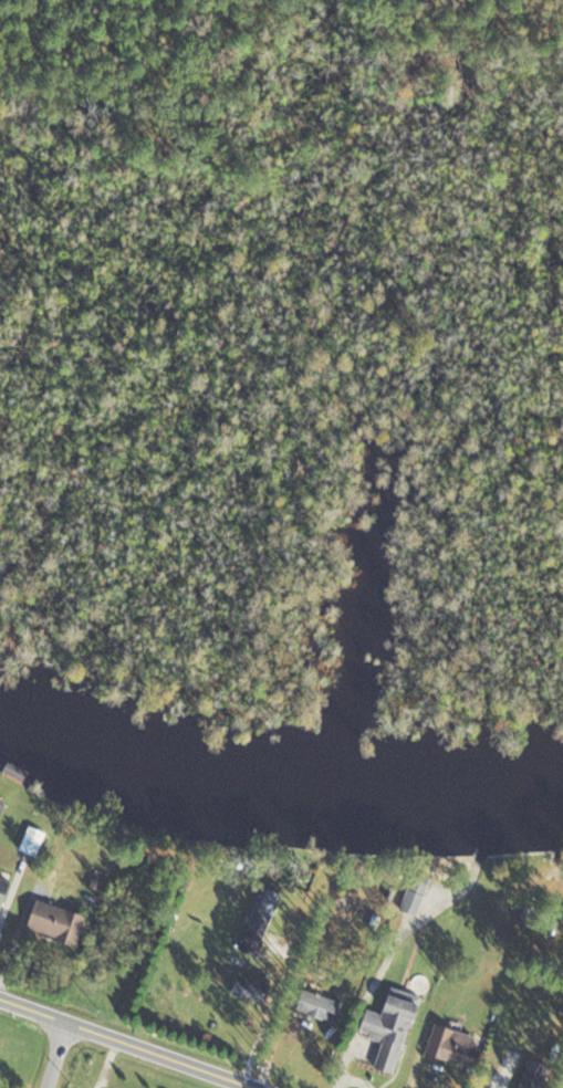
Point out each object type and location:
building: (15, 772)
building: (2, 887)
building: (415, 895)
building: (259, 921)
building: (54, 922)
building: (244, 987)
road: (366, 1004)
building: (316, 1005)
road: (269, 1017)
building: (388, 1027)
road: (129, 1045)
building: (451, 1046)
road: (55, 1056)
road: (356, 1079)

